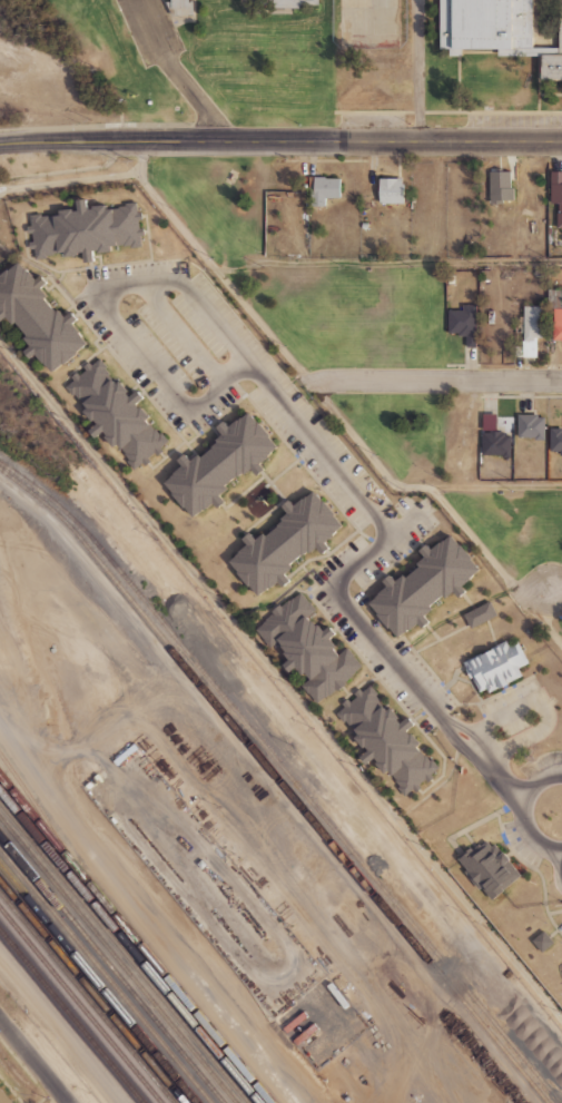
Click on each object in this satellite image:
building: (294, 3)
building: (179, 7)
parking lot: (149, 28)
building: (497, 30)
park: (197, 56)
road: (417, 70)
road: (176, 73)
road: (280, 140)
building: (500, 187)
building: (323, 189)
building: (391, 190)
building: (556, 194)
building: (85, 229)
building: (553, 234)
road: (388, 262)
road: (214, 265)
building: (555, 312)
building: (38, 317)
building: (463, 323)
building: (515, 324)
building: (531, 331)
road: (184, 334)
park: (369, 361)
parking lot: (213, 367)
road: (436, 381)
building: (116, 413)
building: (530, 426)
road: (307, 432)
building: (555, 440)
building: (496, 443)
building: (221, 464)
road: (411, 486)
road: (402, 525)
building: (286, 542)
road: (495, 565)
building: (424, 585)
park: (544, 585)
building: (480, 614)
parking lot: (339, 618)
building: (308, 647)
building: (496, 666)
road: (543, 705)
parking lot: (515, 709)
building: (387, 740)
parking lot: (541, 762)
railway: (287, 774)
railway: (279, 779)
railway: (31, 801)
road: (524, 810)
parking lot: (528, 854)
building: (490, 867)
road: (144, 918)
parking lot: (560, 926)
railway: (135, 938)
building: (542, 942)
railway: (128, 947)
railway: (122, 954)
railway: (115, 963)
railway: (110, 969)
railway: (103, 976)
railway: (98, 983)
railway: (91, 991)
railway: (86, 998)
railway: (79, 1006)
railway: (70, 1016)
road: (32, 1063)
building: (4, 1097)

